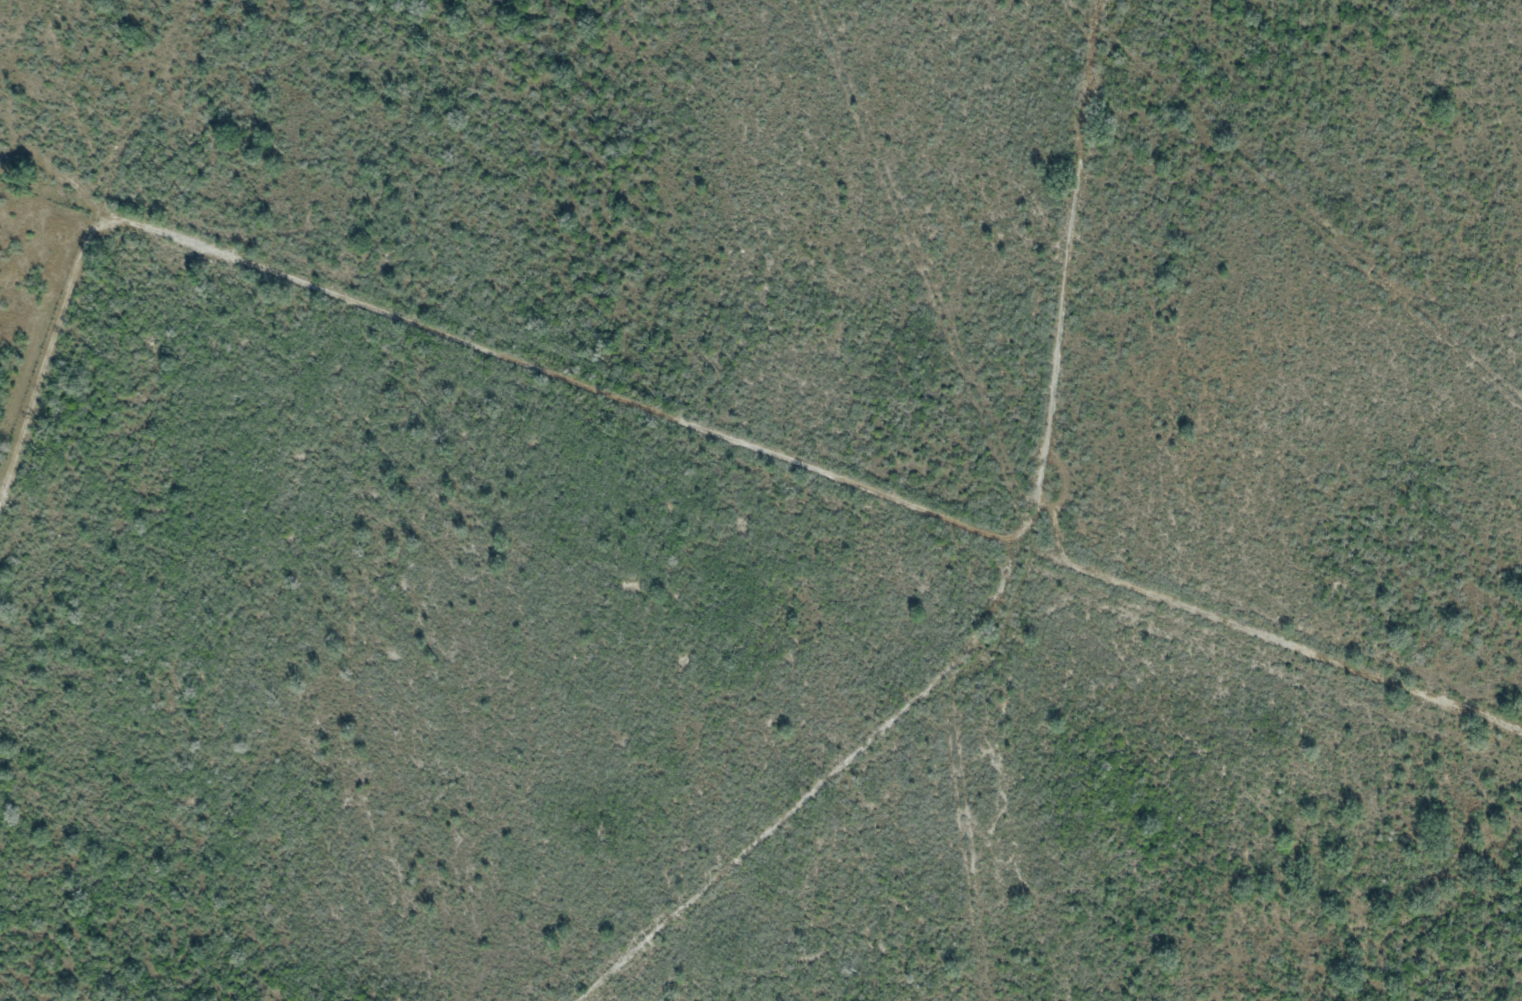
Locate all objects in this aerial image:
road: (1063, 292)
road: (402, 321)
road: (1235, 628)

